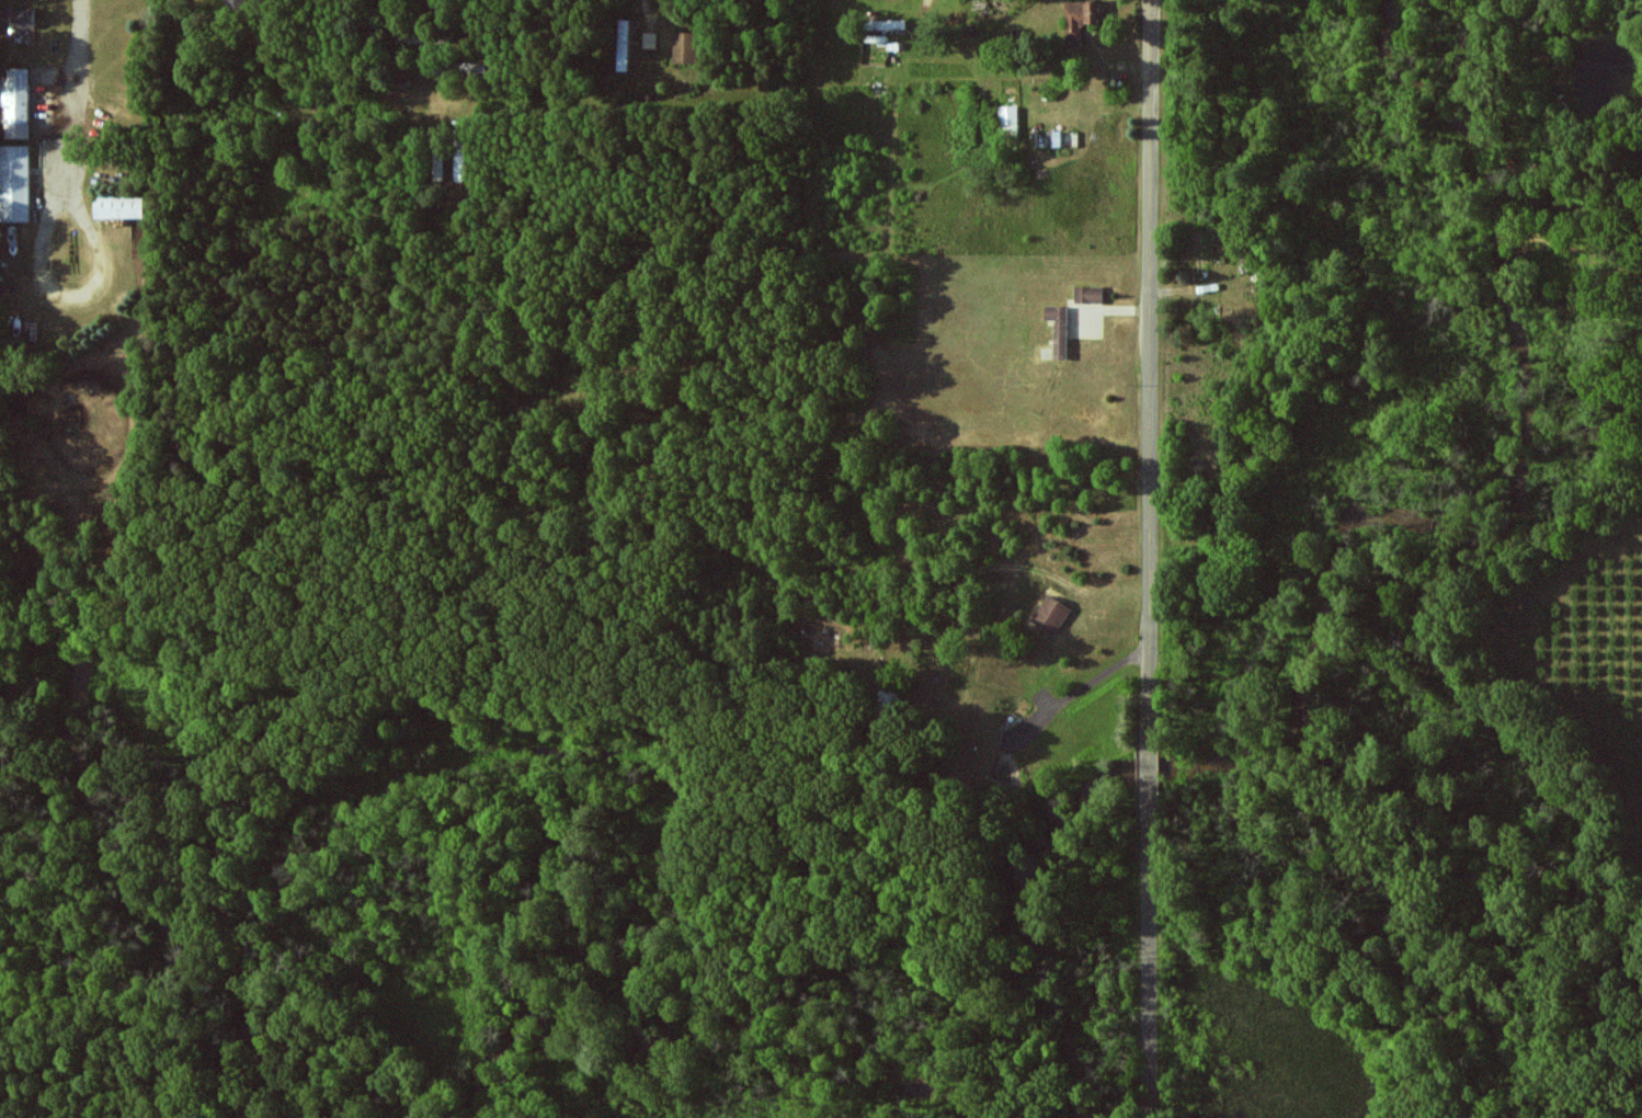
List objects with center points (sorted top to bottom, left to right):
building: (233, 2)
building: (1082, 15)
building: (18, 18)
building: (881, 27)
building: (650, 39)
building: (624, 45)
building: (684, 47)
road: (79, 91)
building: (15, 102)
building: (1008, 122)
building: (14, 183)
building: (119, 207)
building: (1088, 294)
building: (1059, 329)
road: (1149, 558)
building: (1051, 614)
river: (613, 753)
river: (113, 832)

